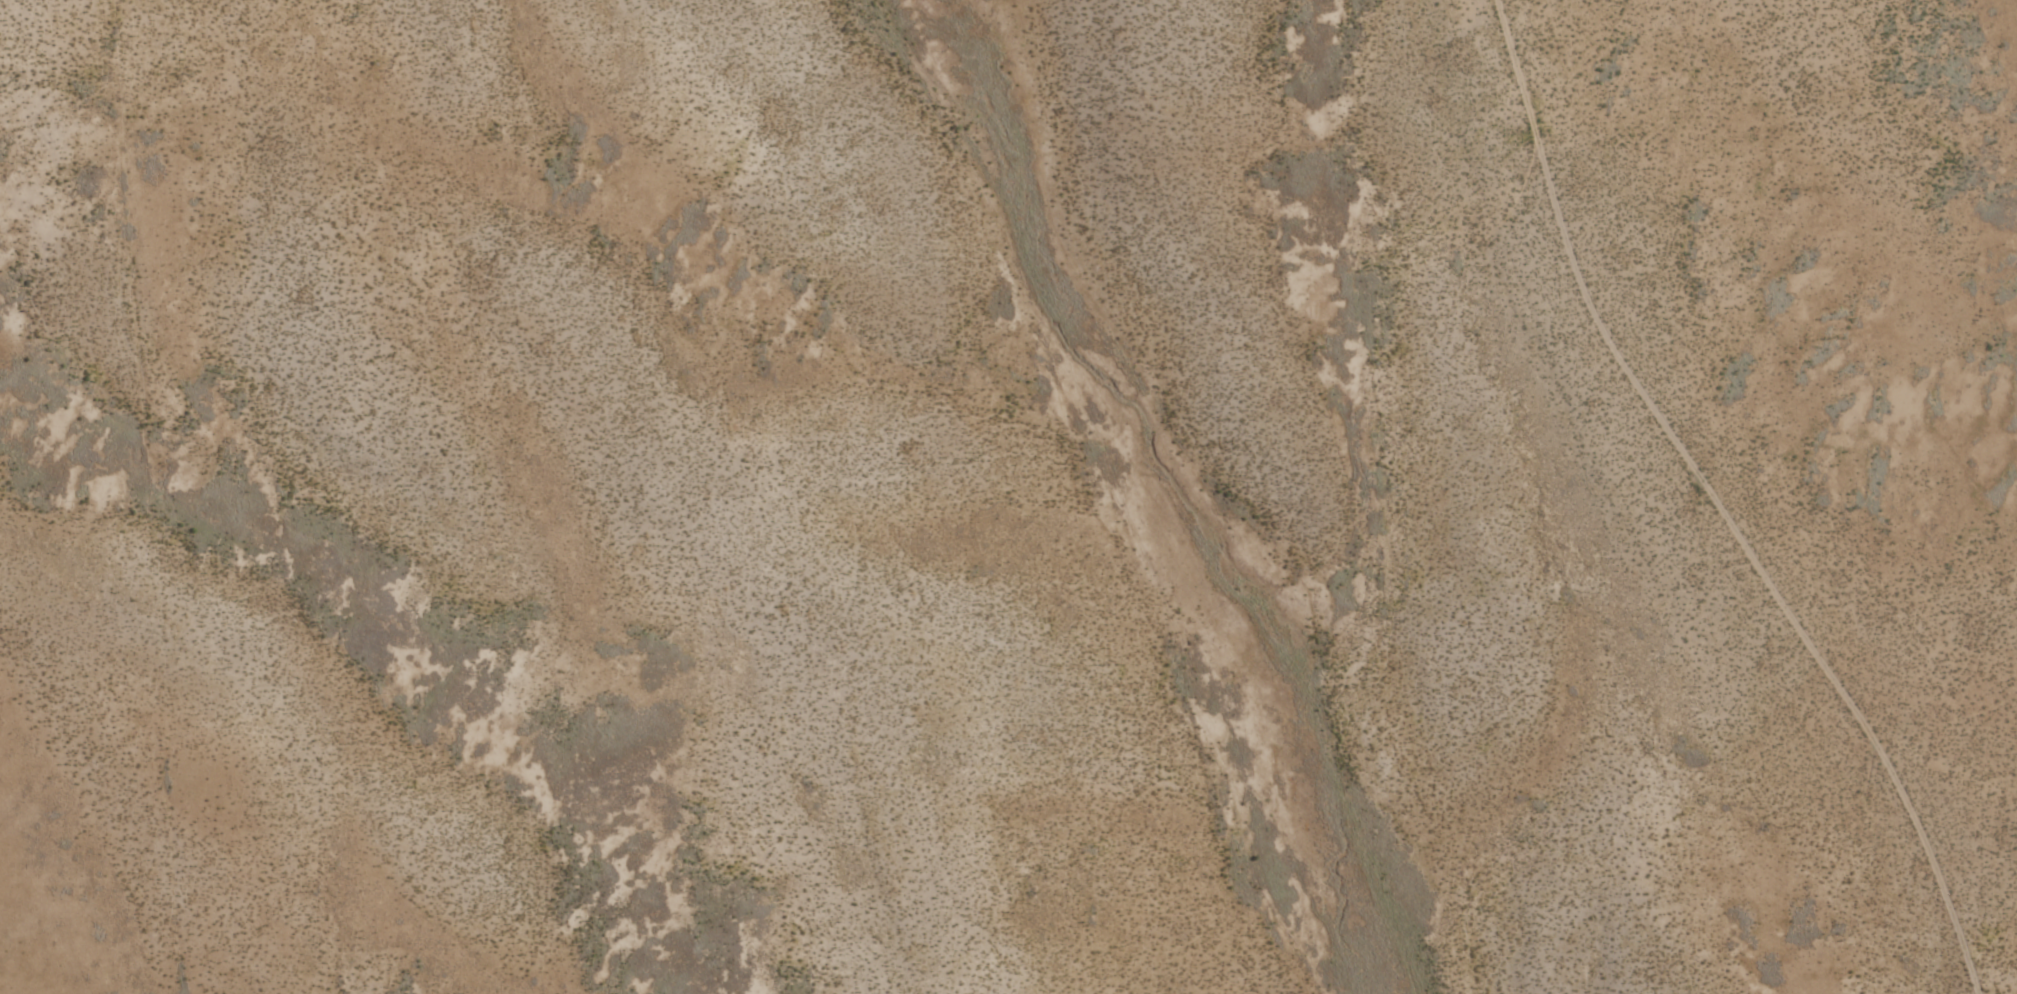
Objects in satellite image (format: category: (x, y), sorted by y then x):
road: (1744, 492)

